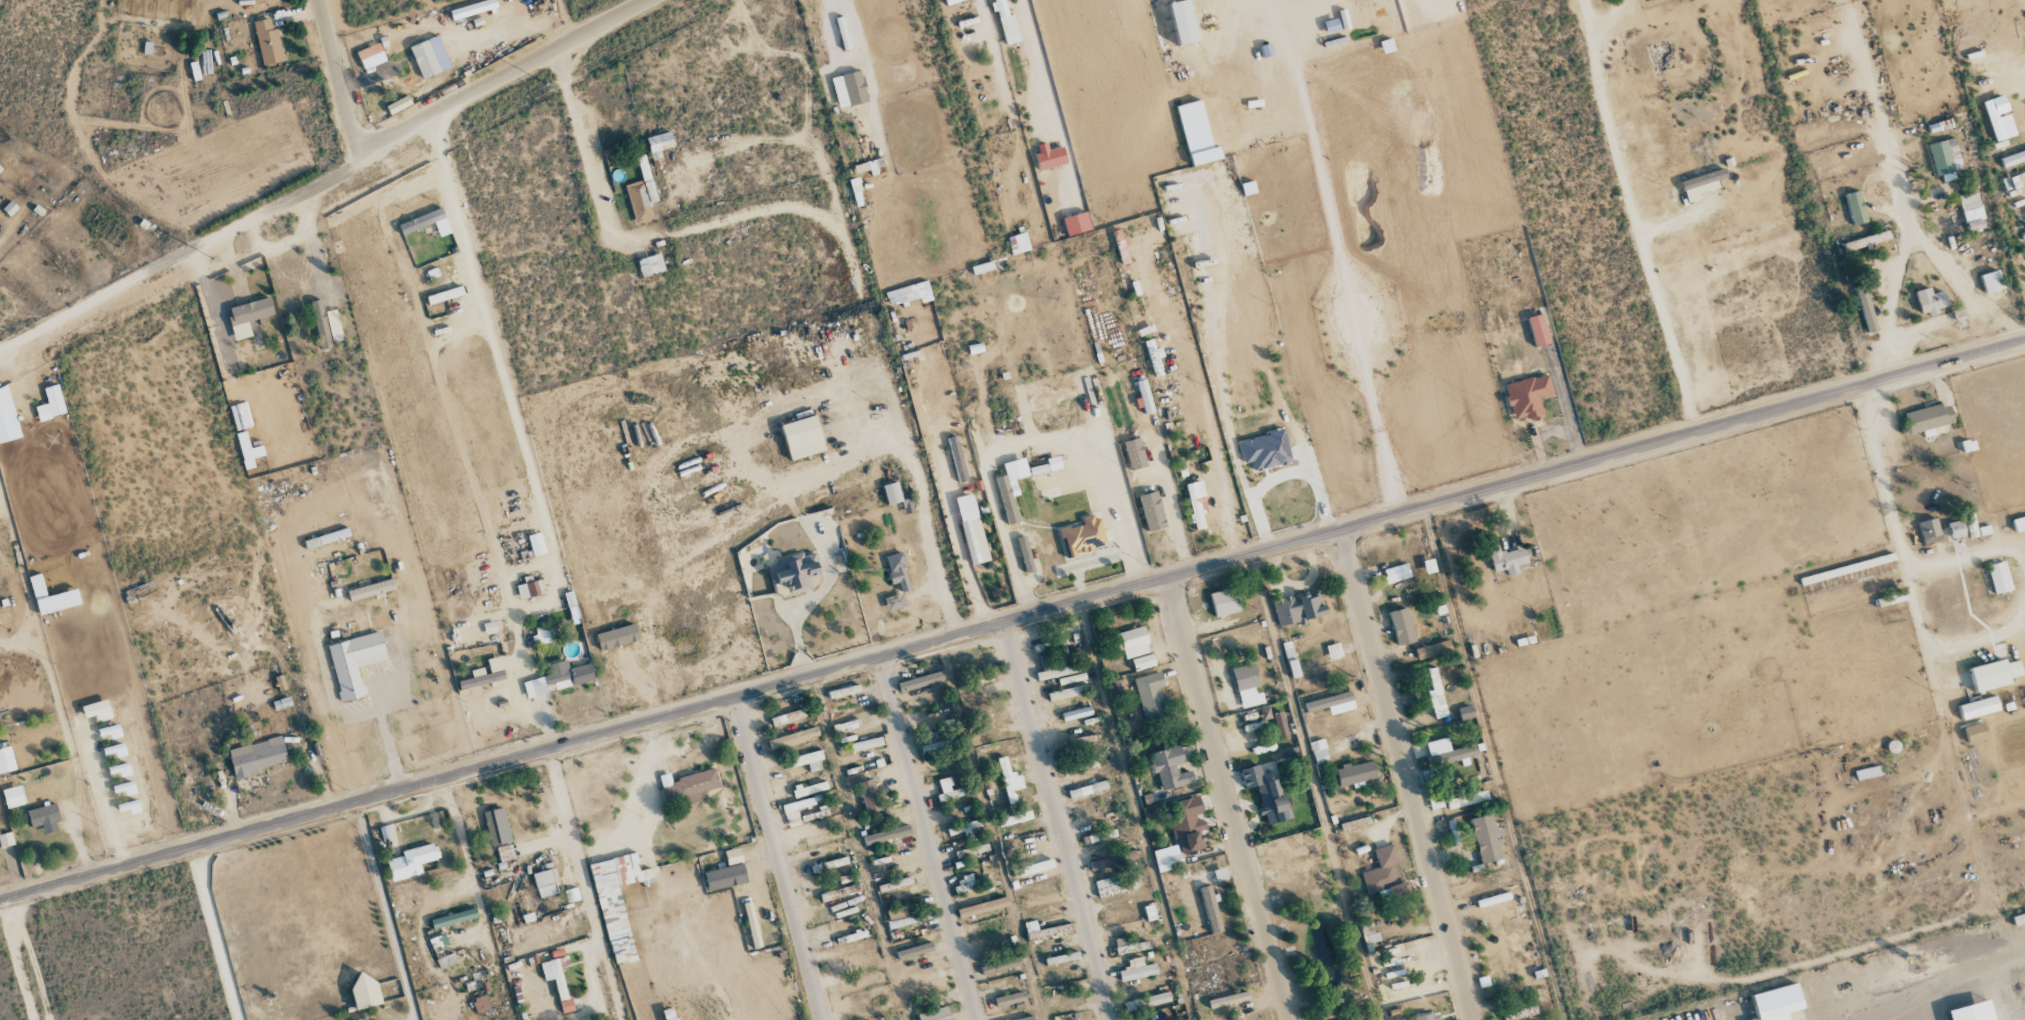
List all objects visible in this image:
building: (951, 1)
building: (472, 8)
building: (1183, 21)
building: (1006, 23)
building: (267, 42)
building: (371, 56)
building: (424, 59)
road: (1001, 74)
building: (405, 75)
road: (337, 77)
building: (849, 88)
road: (806, 96)
building: (398, 104)
building: (1999, 117)
building: (1197, 133)
building: (658, 144)
building: (1049, 156)
building: (2013, 157)
building: (1945, 158)
building: (0, 168)
road: (326, 176)
building: (2017, 179)
building: (854, 184)
building: (1700, 184)
road: (1861, 192)
building: (641, 193)
building: (1856, 207)
road: (1629, 208)
building: (1972, 211)
road: (1022, 213)
building: (426, 223)
building: (1076, 223)
road: (254, 235)
road: (661, 236)
building: (1866, 240)
road: (311, 241)
building: (1018, 243)
road: (255, 250)
building: (650, 265)
road: (203, 271)
building: (1991, 281)
building: (909, 293)
building: (444, 294)
building: (1931, 300)
building: (1866, 308)
building: (247, 316)
building: (325, 325)
building: (1538, 330)
road: (1915, 342)
building: (1144, 396)
building: (1051, 397)
building: (1527, 397)
road: (819, 401)
building: (51, 403)
building: (7, 417)
building: (1929, 417)
building: (802, 437)
road: (1036, 439)
building: (1266, 450)
building: (251, 451)
building: (1134, 453)
building: (957, 459)
building: (1054, 463)
building: (1038, 469)
road: (941, 476)
building: (1011, 486)
building: (892, 493)
building: (1196, 505)
building: (1151, 511)
building: (2019, 522)
road: (1888, 524)
building: (971, 529)
building: (1956, 529)
building: (1929, 531)
building: (1082, 536)
building: (326, 538)
building: (536, 544)
building: (1025, 554)
building: (1507, 560)
road: (1090, 563)
building: (1855, 566)
building: (795, 571)
building: (1396, 572)
building: (1999, 577)
building: (896, 580)
road: (826, 582)
building: (370, 590)
building: (528, 590)
building: (51, 597)
building: (1891, 599)
building: (1225, 601)
building: (1299, 607)
road: (1012, 619)
building: (1401, 626)
building: (542, 635)
building: (617, 637)
building: (1134, 642)
building: (1432, 649)
building: (1334, 650)
building: (1143, 661)
building: (354, 662)
building: (1057, 671)
building: (485, 673)
building: (1994, 674)
building: (1071, 678)
building: (558, 679)
building: (920, 681)
building: (1246, 684)
building: (844, 691)
building: (1149, 692)
building: (1064, 693)
building: (1435, 693)
road: (330, 700)
building: (1332, 702)
building: (1978, 707)
building: (97, 710)
building: (1465, 711)
road: (357, 717)
building: (1279, 724)
building: (1975, 732)
road: (386, 736)
building: (866, 743)
building: (1318, 751)
building: (1447, 751)
building: (256, 757)
building: (807, 760)
building: (5, 761)
building: (1080, 766)
building: (1170, 767)
building: (1355, 773)
building: (1867, 773)
road: (1405, 774)
building: (1009, 780)
building: (687, 787)
building: (1087, 789)
building: (949, 790)
building: (1267, 794)
building: (868, 795)
building: (13, 796)
road: (1228, 798)
building: (1466, 799)
building: (795, 810)
building: (44, 818)
building: (1014, 818)
road: (1058, 820)
building: (1186, 823)
building: (496, 826)
building: (963, 827)
building: (886, 834)
road: (927, 837)
building: (822, 838)
building: (1485, 838)
building: (6, 840)
road: (573, 848)
road: (777, 858)
building: (1167, 858)
building: (411, 861)
building: (1107, 861)
building: (727, 872)
building: (1385, 875)
building: (546, 883)
building: (1113, 886)
building: (1041, 900)
building: (616, 901)
building: (982, 907)
building: (1210, 908)
road: (385, 910)
building: (904, 916)
building: (453, 918)
building: (1040, 931)
building: (859, 934)
building: (1368, 936)
building: (1125, 946)
building: (441, 950)
building: (913, 951)
building: (1061, 958)
road: (23, 959)
building: (1506, 959)
building: (1137, 969)
building: (554, 975)
building: (863, 982)
road: (1918, 987)
building: (365, 990)
building: (1009, 999)
building: (1064, 999)
building: (1228, 999)
building: (1147, 1001)
building: (1777, 1002)
building: (566, 1006)
building: (1972, 1012)
building: (669, 1014)
building: (934, 1014)
building: (1429, 1016)
building: (1350, 1019)

